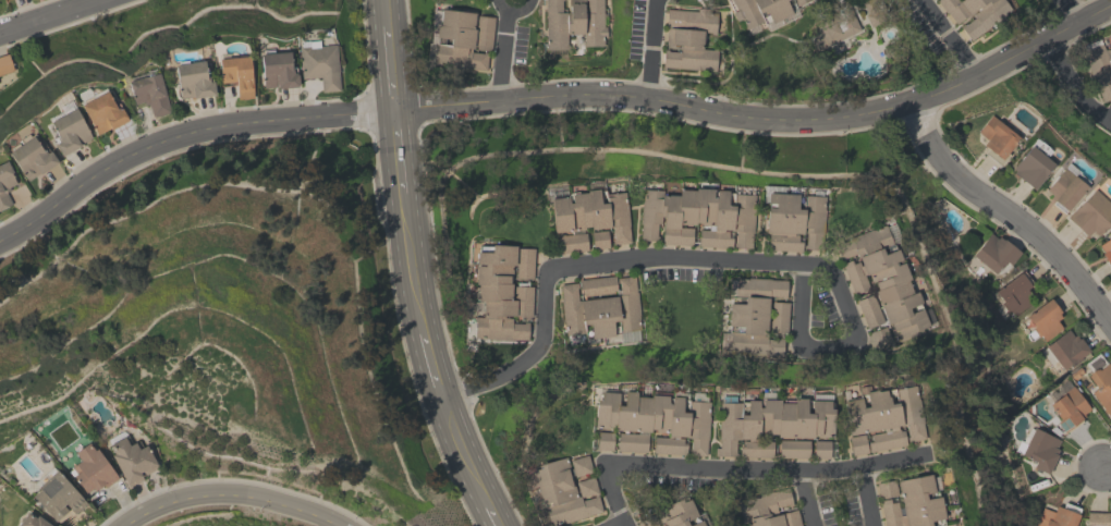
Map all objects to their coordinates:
road: (512, 11)
building: (762, 11)
road: (1067, 11)
road: (386, 13)
building: (974, 13)
road: (44, 14)
building: (573, 22)
building: (834, 29)
road: (949, 36)
building: (461, 38)
building: (689, 39)
road: (649, 48)
road: (501, 56)
building: (318, 62)
building: (4, 63)
road: (391, 68)
building: (277, 69)
building: (1099, 69)
building: (236, 73)
building: (193, 78)
road: (1072, 86)
building: (149, 91)
road: (552, 95)
building: (102, 111)
road: (1106, 114)
building: (69, 129)
building: (996, 137)
road: (398, 151)
building: (30, 156)
building: (1031, 163)
building: (4, 183)
building: (1065, 186)
building: (1090, 212)
road: (1006, 213)
building: (697, 216)
building: (587, 217)
building: (793, 220)
building: (598, 238)
building: (1106, 249)
building: (994, 252)
road: (700, 258)
road: (410, 264)
building: (882, 282)
building: (501, 291)
building: (1014, 292)
building: (601, 307)
building: (868, 310)
building: (756, 316)
building: (1041, 320)
building: (1065, 348)
road: (430, 366)
building: (1102, 387)
building: (1069, 408)
building: (882, 417)
building: (654, 421)
building: (769, 423)
building: (603, 440)
building: (792, 448)
building: (820, 449)
building: (1039, 449)
road: (462, 452)
building: (131, 458)
road: (730, 466)
road: (1106, 467)
building: (90, 468)
building: (886, 488)
building: (564, 489)
road: (228, 493)
building: (56, 494)
road: (866, 496)
road: (806, 498)
building: (913, 503)
building: (767, 509)
building: (676, 513)
road: (489, 516)
building: (1058, 516)
building: (1098, 518)
building: (32, 521)
building: (647, 521)
road: (615, 523)

